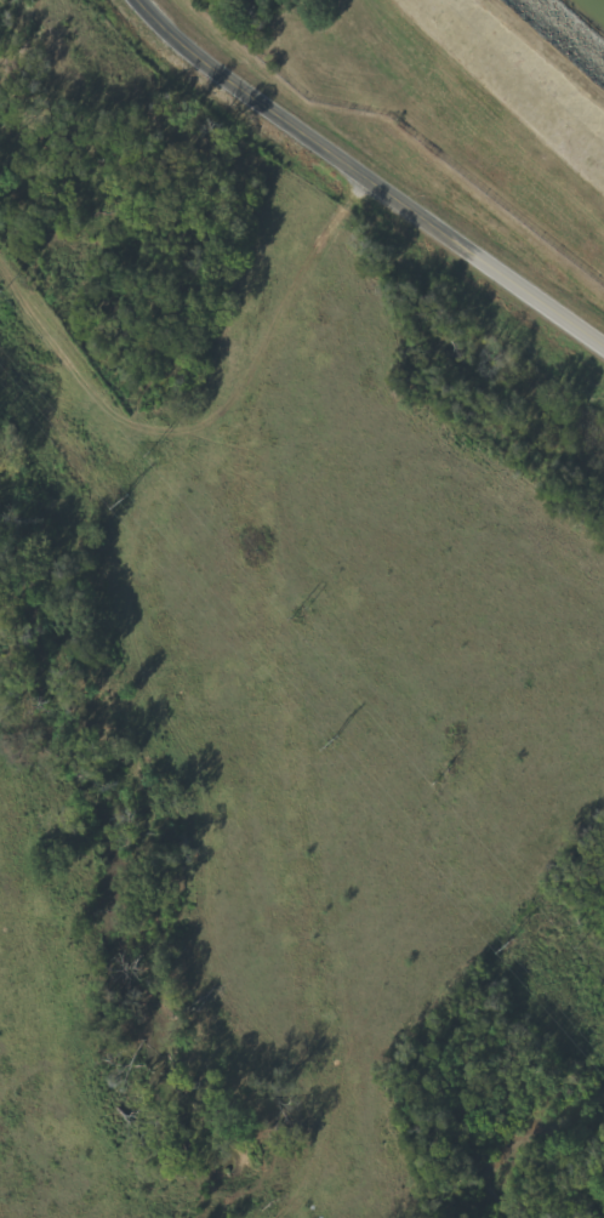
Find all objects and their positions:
road: (361, 177)
power tower: (124, 501)
power tower: (332, 741)
power tower: (508, 943)

